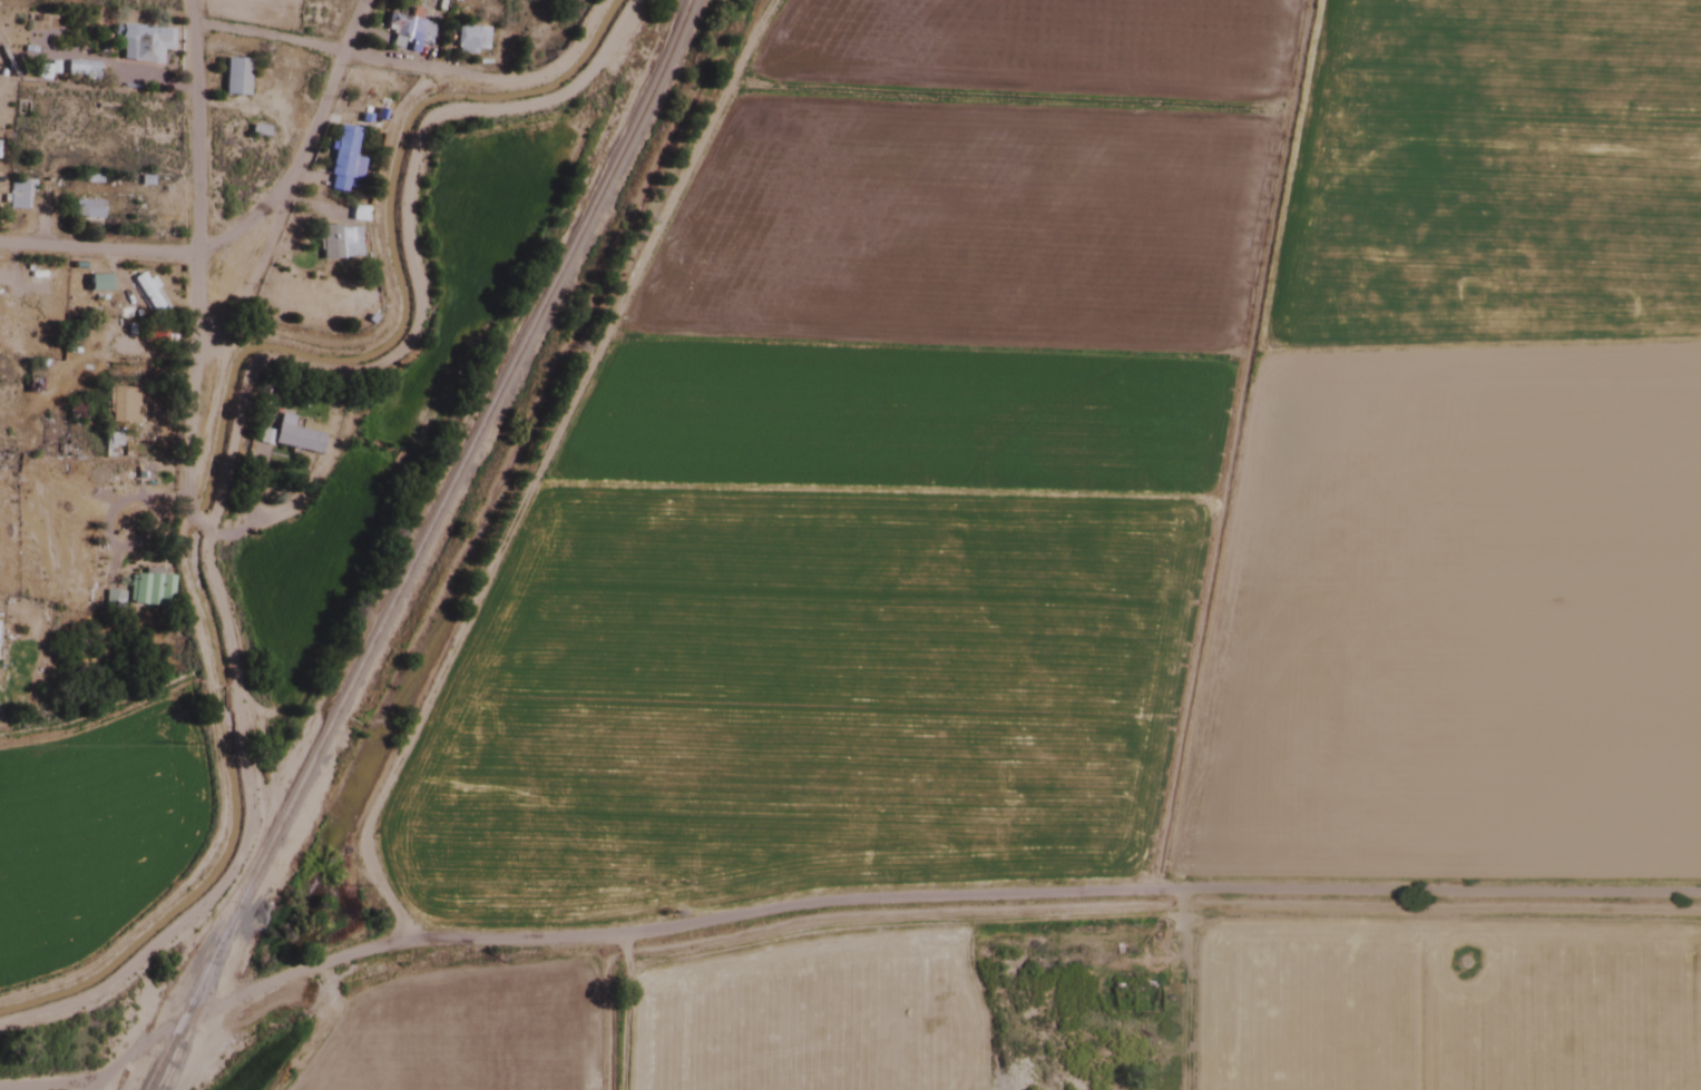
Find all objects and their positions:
building: (256, 8)
building: (407, 31)
building: (470, 39)
building: (141, 43)
building: (234, 77)
road: (306, 146)
building: (342, 160)
railway: (613, 161)
building: (16, 195)
building: (85, 209)
building: (153, 220)
road: (195, 230)
building: (330, 242)
road: (98, 252)
building: (146, 293)
building: (124, 405)
crop: (1094, 578)
building: (146, 590)
railway: (338, 705)
road: (876, 907)
railway: (197, 1000)
road: (47, 1086)

